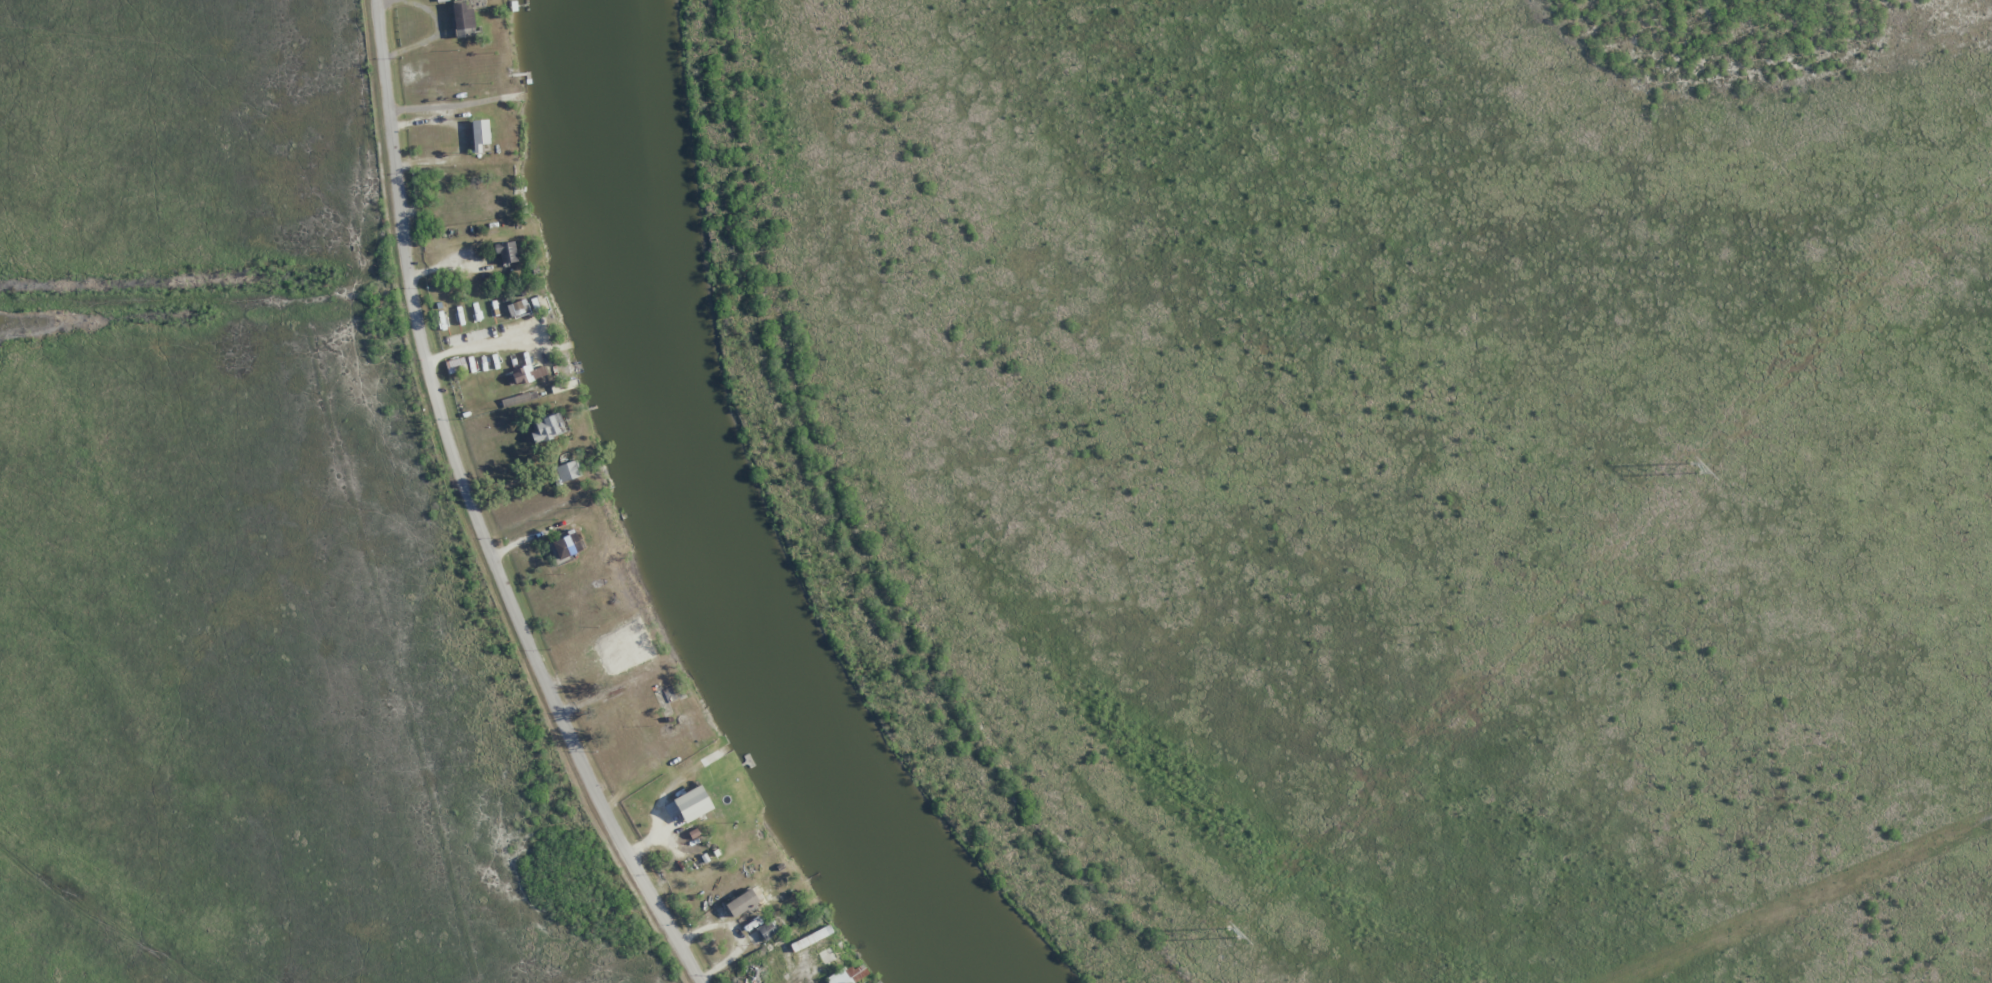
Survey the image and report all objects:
building: (527, 374)
building: (548, 428)
power tower: (1695, 466)
building: (568, 471)
road: (473, 511)
river: (702, 520)
building: (566, 546)
building: (688, 806)
building: (742, 903)
building: (722, 912)
building: (767, 930)
power tower: (1231, 930)
building: (848, 974)

